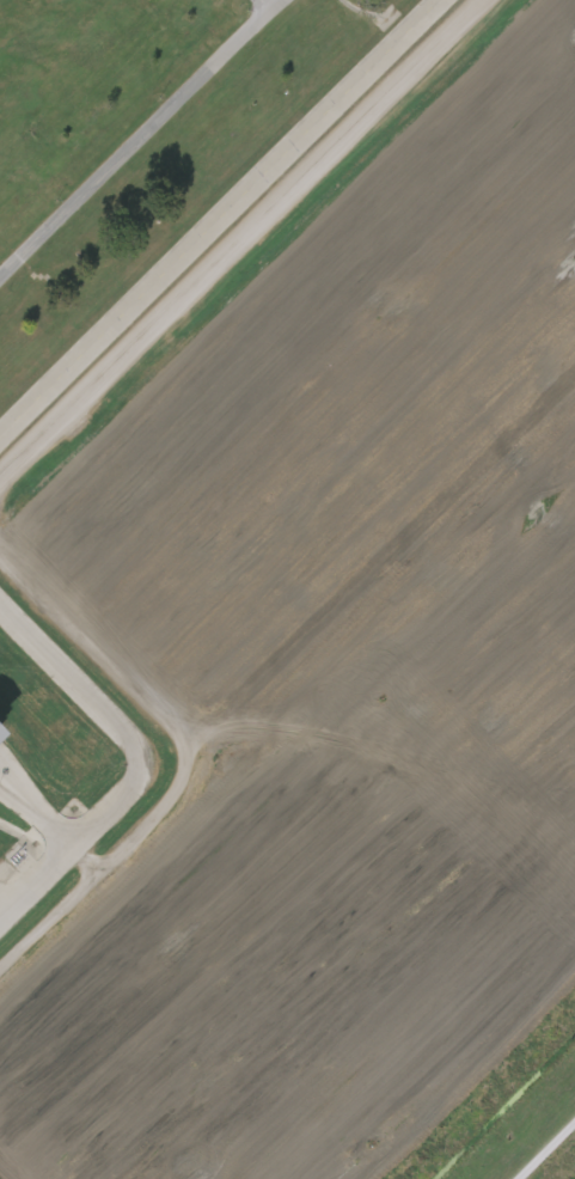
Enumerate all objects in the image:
road: (269, 7)
road: (148, 140)
road: (233, 221)
building: (1, 556)
wastewater plant: (287, 589)
road: (318, 652)
road: (549, 1153)

